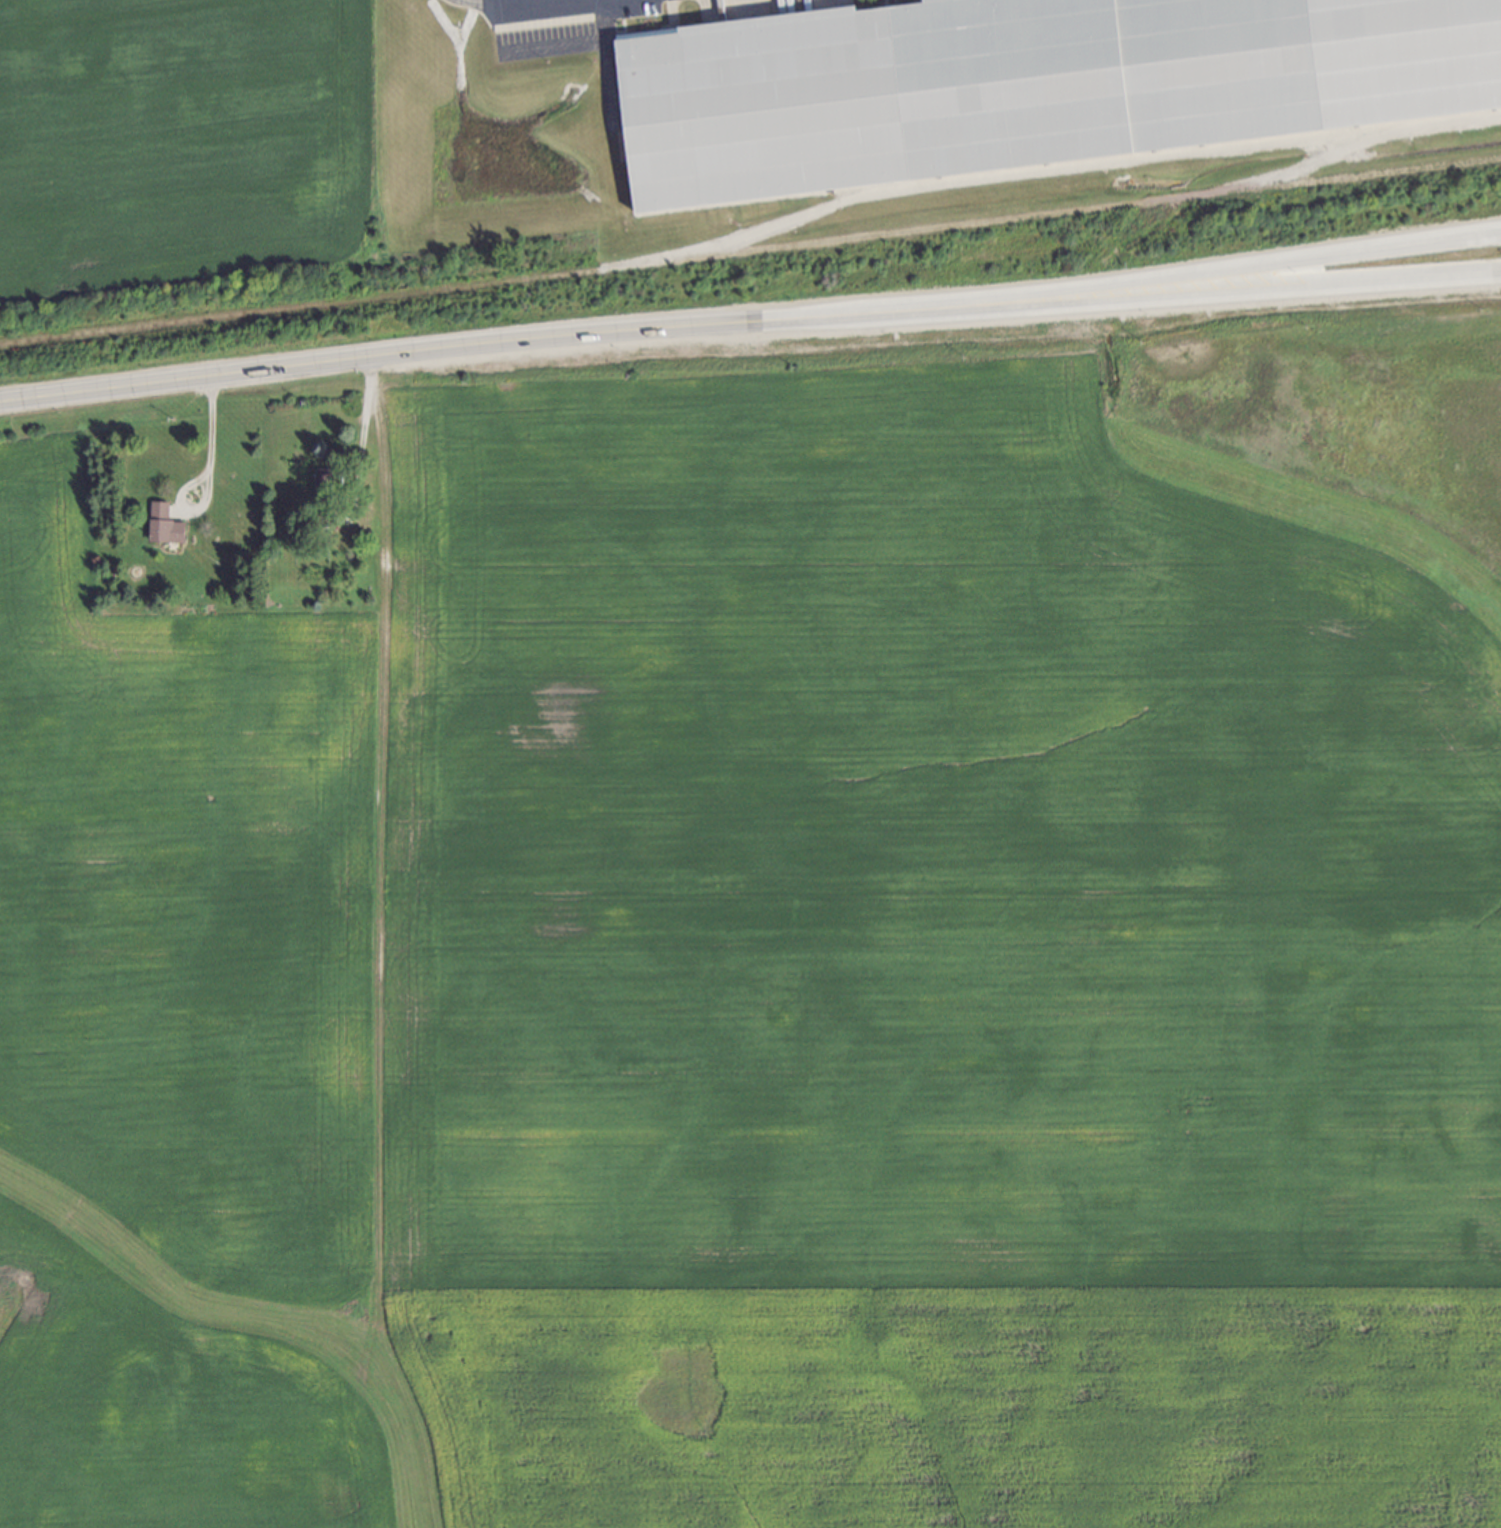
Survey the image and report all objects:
building: (1027, 85)
road: (1317, 257)
road: (1318, 280)
road: (566, 334)
road: (363, 422)
road: (210, 439)
building: (324, 479)
building: (166, 524)

